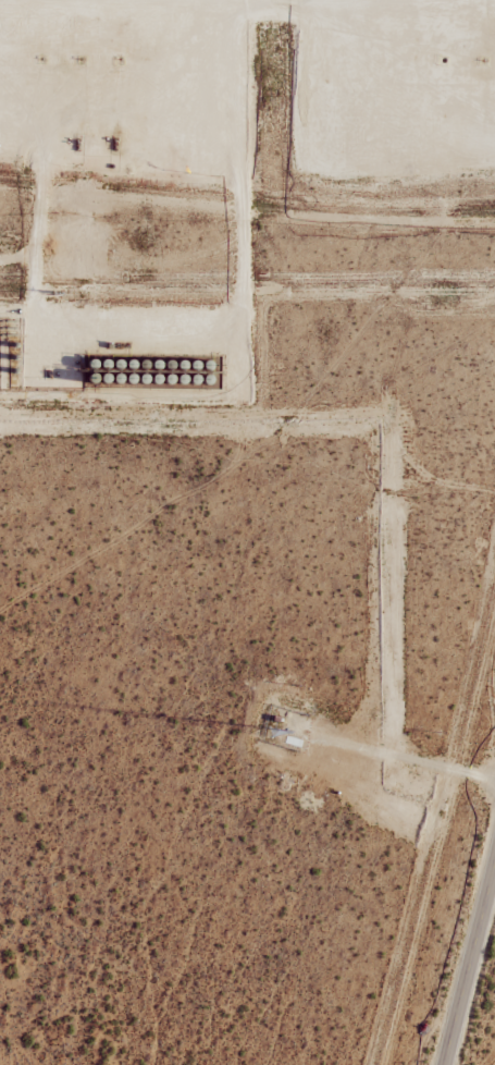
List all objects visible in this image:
road: (385, 57)
petroleum well: (81, 58)
petroleum well: (120, 58)
petroleum well: (42, 59)
petroleum well: (483, 59)
petroleum well: (444, 60)
road: (138, 320)
road: (470, 963)

